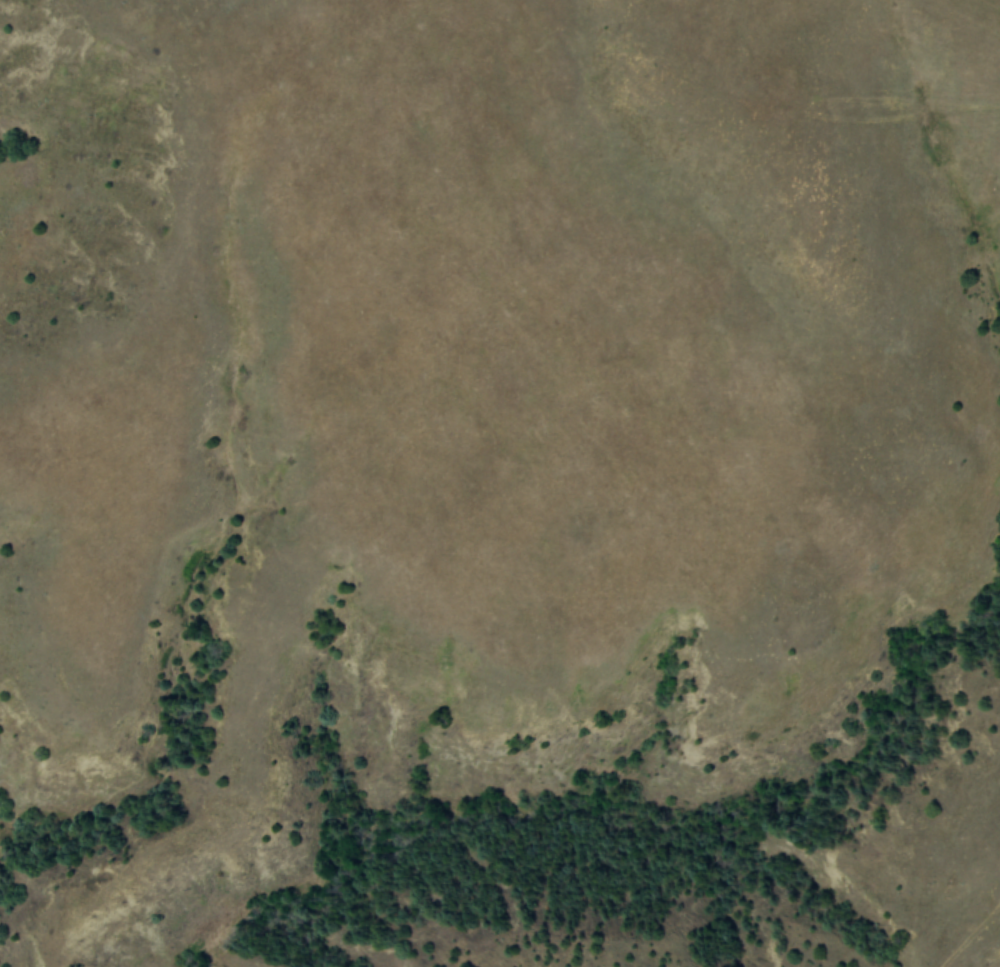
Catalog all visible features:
road: (969, 18)

